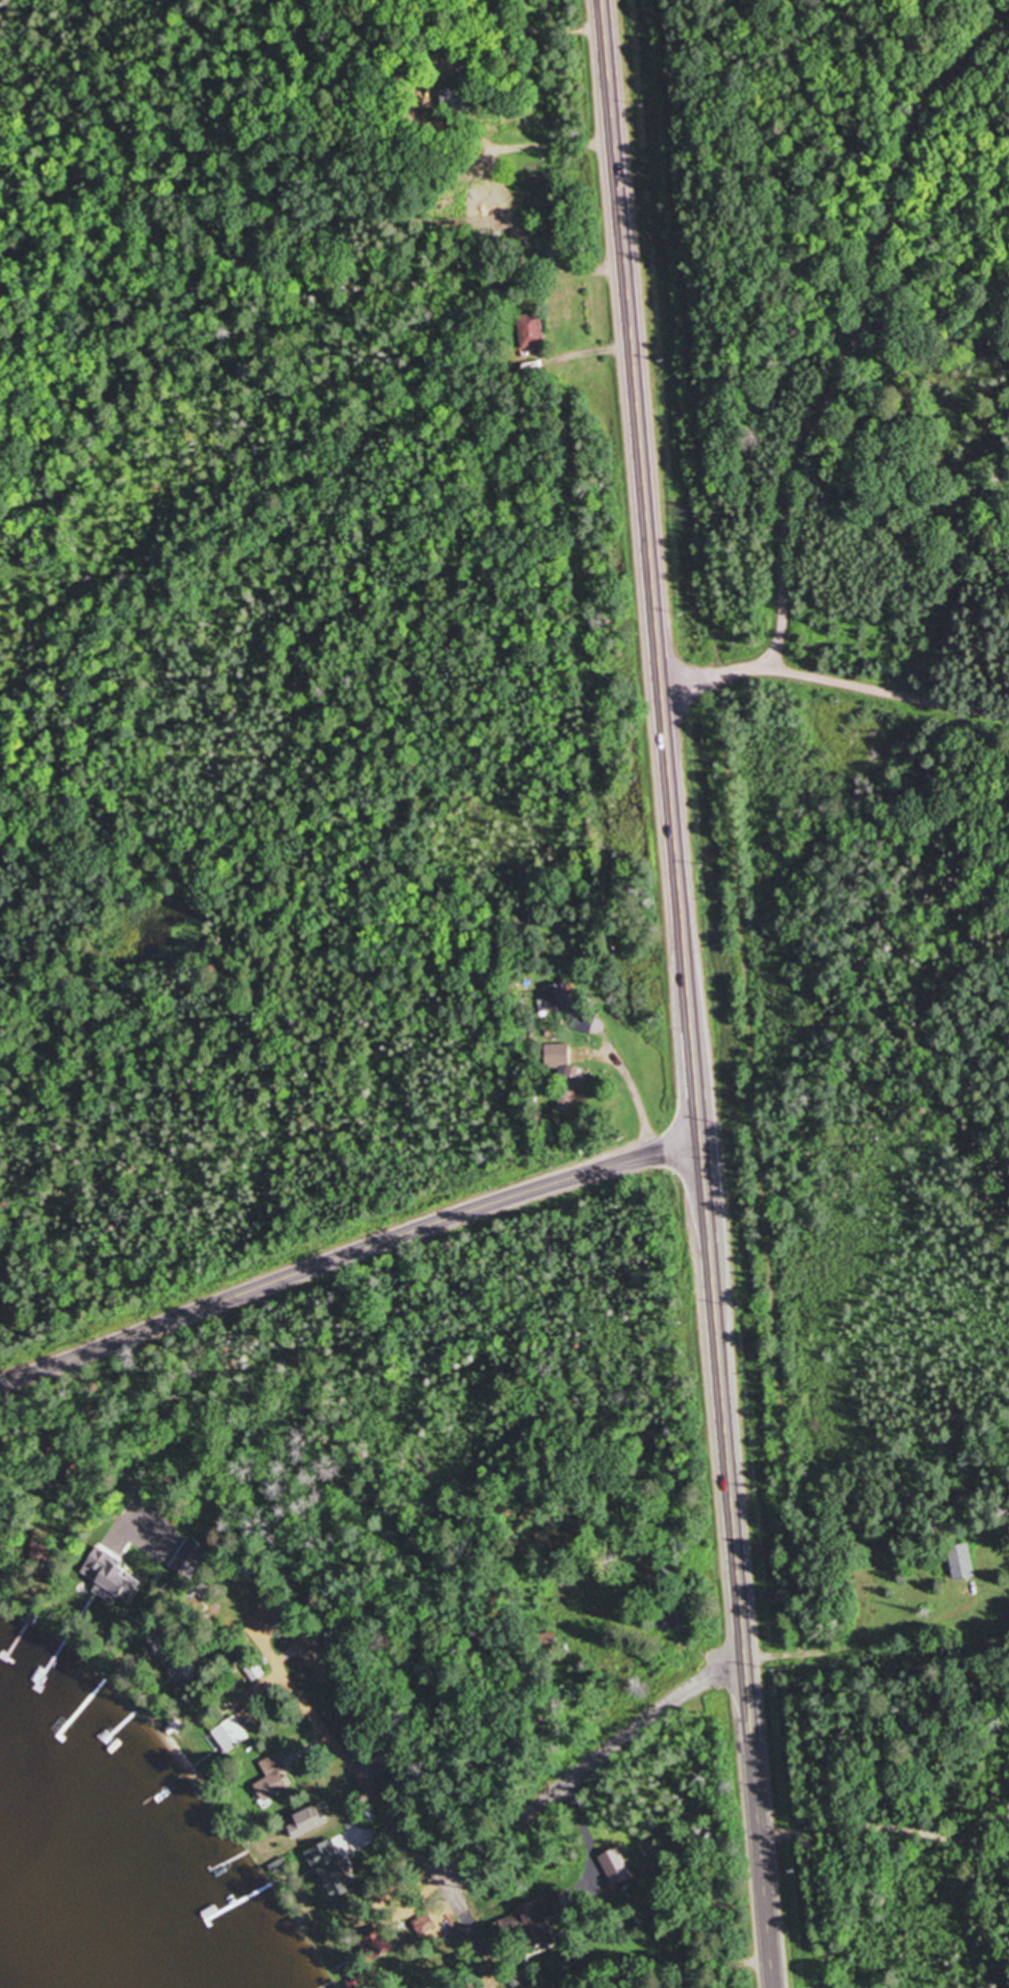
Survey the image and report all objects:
building: (456, 96)
building: (533, 333)
road: (867, 339)
road: (709, 672)
road: (883, 685)
road: (689, 994)
building: (560, 997)
building: (565, 1074)
road: (348, 1254)
building: (42, 1544)
building: (963, 1562)
building: (205, 1590)
building: (275, 1606)
building: (161, 1643)
building: (186, 1673)
building: (233, 1735)
road: (595, 1760)
building: (274, 1780)
building: (309, 1824)
building: (617, 1869)
building: (332, 1870)
building: (532, 1928)
building: (378, 1946)

